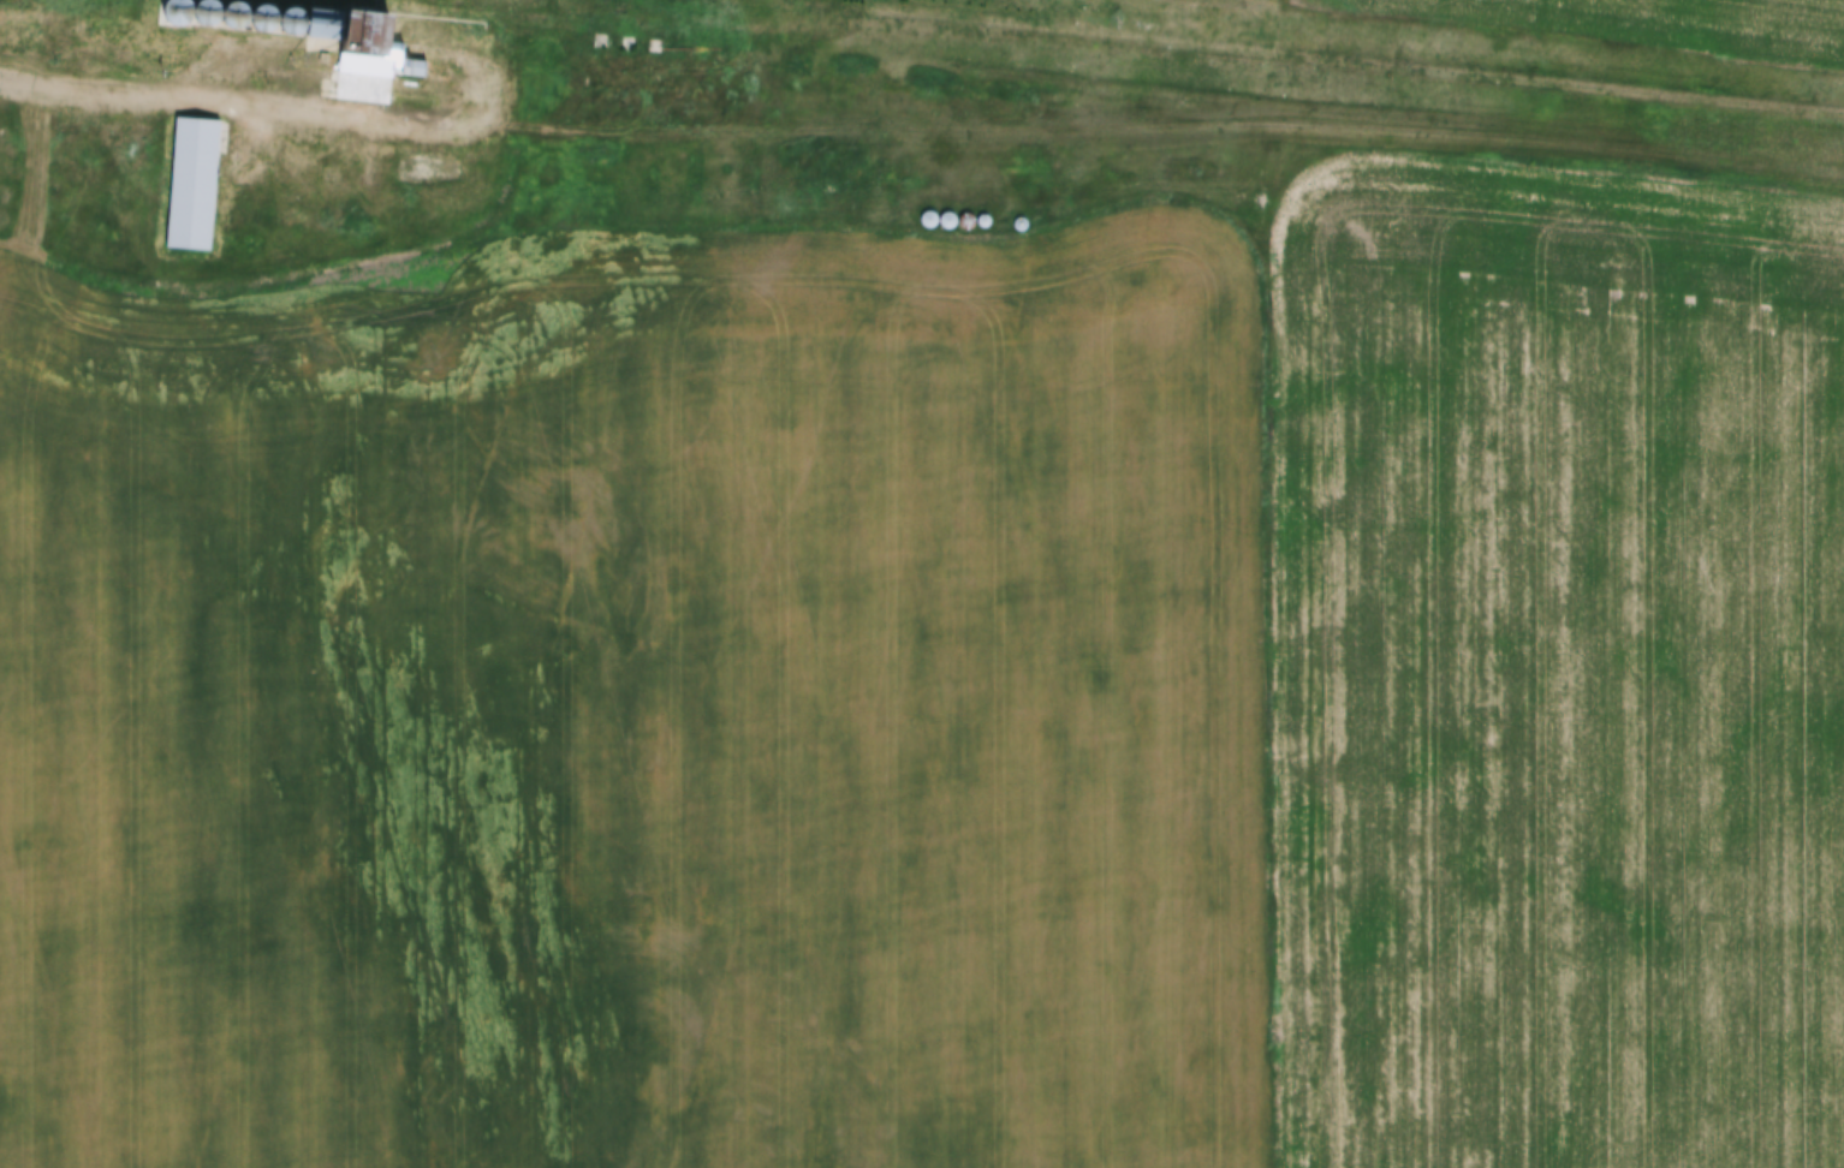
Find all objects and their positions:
building: (174, 7)
silo: (174, 7)
building: (203, 8)
silo: (203, 8)
building: (232, 10)
silo: (232, 10)
building: (261, 12)
silo: (261, 12)
building: (291, 13)
silo: (291, 13)
building: (142, 25)
building: (364, 25)
building: (373, 67)
building: (192, 175)
building: (932, 210)
silo: (932, 210)
building: (951, 211)
silo: (951, 211)
building: (969, 211)
silo: (969, 211)
building: (986, 213)
silo: (986, 213)
building: (1024, 215)
silo: (1024, 215)

